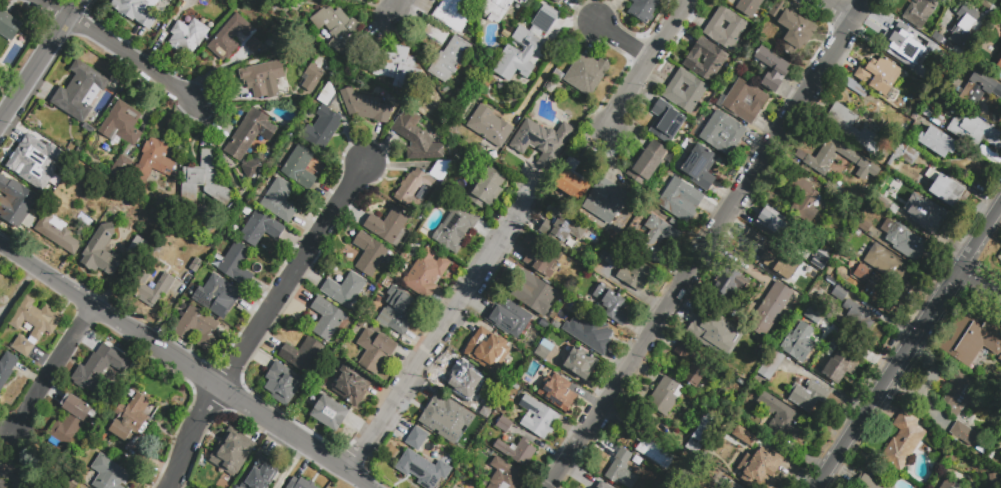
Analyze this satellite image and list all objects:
building: (201, 0)
building: (558, 2)
building: (747, 7)
road: (400, 9)
building: (501, 9)
building: (643, 10)
road: (841, 10)
building: (134, 11)
building: (778, 11)
building: (922, 13)
building: (452, 15)
building: (970, 17)
building: (548, 18)
building: (8, 27)
building: (726, 30)
building: (337, 32)
building: (436, 33)
building: (796, 34)
building: (965, 37)
building: (188, 39)
building: (893, 39)
building: (230, 40)
road: (627, 40)
building: (255, 47)
road: (117, 49)
building: (928, 54)
building: (517, 56)
road: (555, 59)
road: (39, 62)
building: (451, 62)
building: (706, 62)
road: (656, 63)
building: (998, 63)
building: (396, 65)
building: (772, 71)
building: (587, 74)
building: (558, 75)
building: (886, 77)
building: (312, 78)
building: (263, 80)
building: (551, 87)
building: (978, 88)
building: (855, 89)
building: (686, 93)
building: (81, 94)
building: (328, 97)
building: (745, 103)
building: (366, 108)
building: (666, 124)
building: (123, 126)
building: (490, 129)
building: (323, 131)
building: (852, 131)
building: (975, 134)
building: (723, 135)
building: (251, 136)
building: (417, 140)
building: (542, 141)
building: (938, 144)
building: (906, 156)
building: (33, 160)
building: (154, 162)
building: (817, 162)
building: (648, 165)
building: (122, 169)
building: (700, 169)
building: (300, 170)
building: (251, 171)
building: (441, 172)
building: (204, 183)
building: (573, 183)
building: (23, 184)
building: (488, 190)
building: (414, 191)
building: (946, 192)
building: (883, 199)
building: (804, 201)
building: (280, 202)
building: (681, 202)
building: (606, 203)
building: (932, 216)
building: (770, 220)
building: (675, 223)
building: (864, 227)
building: (388, 228)
building: (260, 229)
building: (563, 229)
building: (59, 235)
building: (754, 236)
building: (455, 237)
building: (655, 242)
building: (748, 242)
road: (709, 244)
building: (910, 247)
building: (138, 251)
building: (101, 252)
building: (822, 252)
building: (372, 257)
building: (545, 262)
building: (614, 262)
building: (196, 265)
building: (780, 265)
building: (236, 267)
building: (887, 267)
building: (428, 272)
building: (829, 272)
road: (293, 277)
building: (636, 278)
road: (980, 284)
building: (728, 288)
building: (139, 290)
road: (18, 291)
building: (874, 291)
building: (346, 293)
building: (218, 294)
building: (840, 295)
building: (543, 300)
building: (612, 304)
building: (772, 310)
road: (3, 313)
building: (814, 317)
building: (859, 317)
building: (399, 318)
building: (510, 320)
building: (328, 321)
building: (194, 325)
building: (34, 326)
building: (358, 327)
building: (375, 329)
building: (712, 332)
road: (445, 336)
building: (597, 338)
building: (968, 342)
building: (797, 343)
building: (486, 347)
building: (547, 347)
road: (909, 347)
building: (742, 348)
building: (376, 352)
building: (542, 354)
building: (303, 357)
building: (580, 362)
road: (185, 367)
building: (772, 367)
building: (697, 368)
building: (841, 368)
building: (100, 370)
building: (7, 371)
road: (55, 372)
building: (743, 374)
building: (462, 380)
building: (282, 383)
building: (350, 388)
building: (557, 391)
building: (961, 396)
building: (666, 398)
building: (0, 399)
building: (809, 399)
building: (330, 415)
building: (134, 416)
building: (439, 417)
building: (538, 419)
building: (780, 421)
building: (71, 423)
building: (505, 427)
building: (705, 430)
building: (964, 436)
road: (196, 439)
building: (746, 439)
building: (417, 441)
building: (904, 444)
building: (651, 449)
building: (133, 453)
building: (518, 454)
building: (234, 459)
building: (760, 469)
building: (624, 470)
building: (423, 471)
building: (264, 473)
building: (110, 474)
building: (505, 476)
building: (867, 483)
building: (3, 485)
building: (301, 485)
building: (727, 485)
building: (949, 485)
building: (604, 486)

